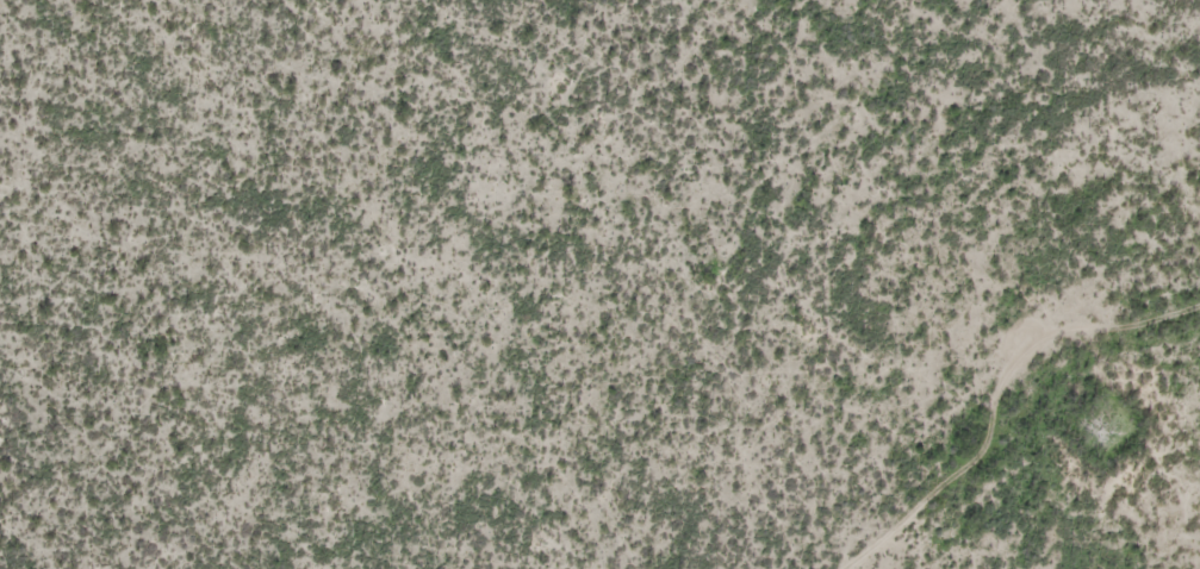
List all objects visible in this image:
road: (1015, 423)

